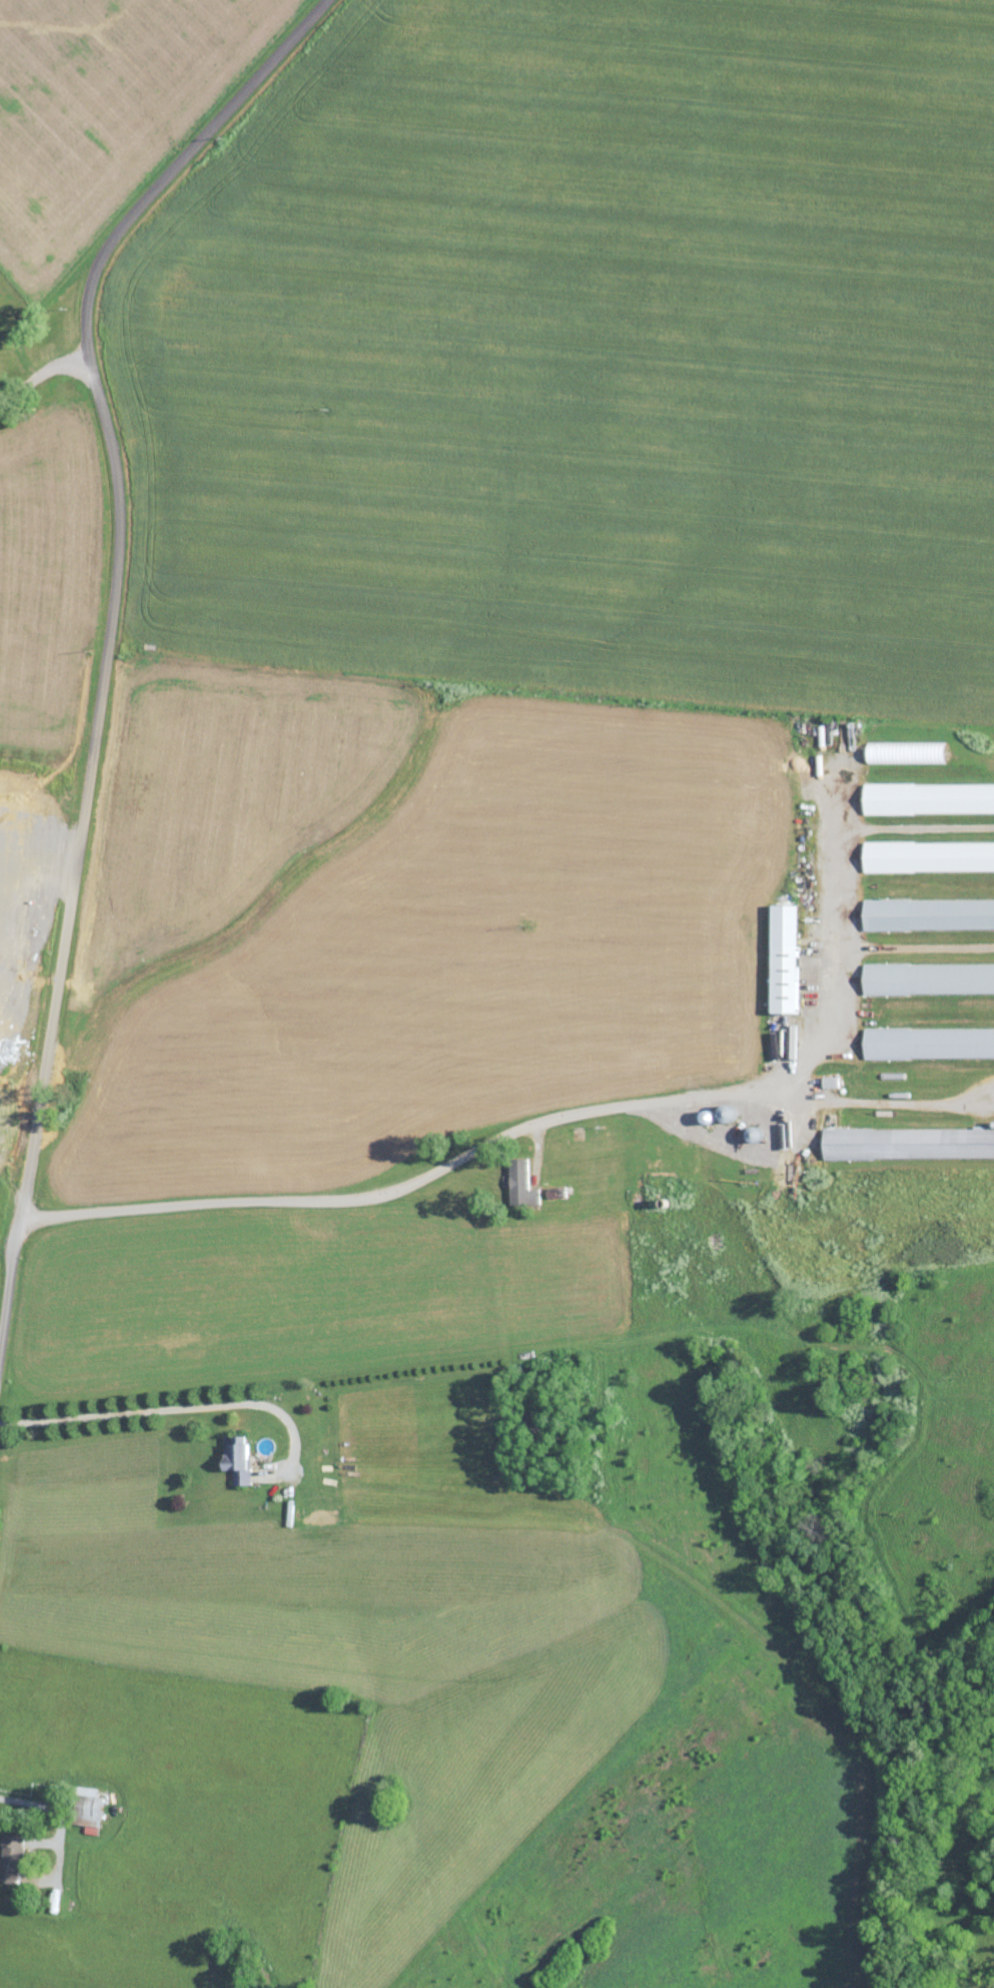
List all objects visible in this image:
road: (108, 629)
building: (908, 754)
building: (930, 798)
building: (930, 856)
building: (930, 915)
building: (787, 958)
building: (930, 978)
building: (930, 1043)
building: (727, 1113)
building: (909, 1143)
building: (522, 1184)
road: (169, 1408)
building: (238, 1460)
building: (88, 1810)
building: (10, 1858)

